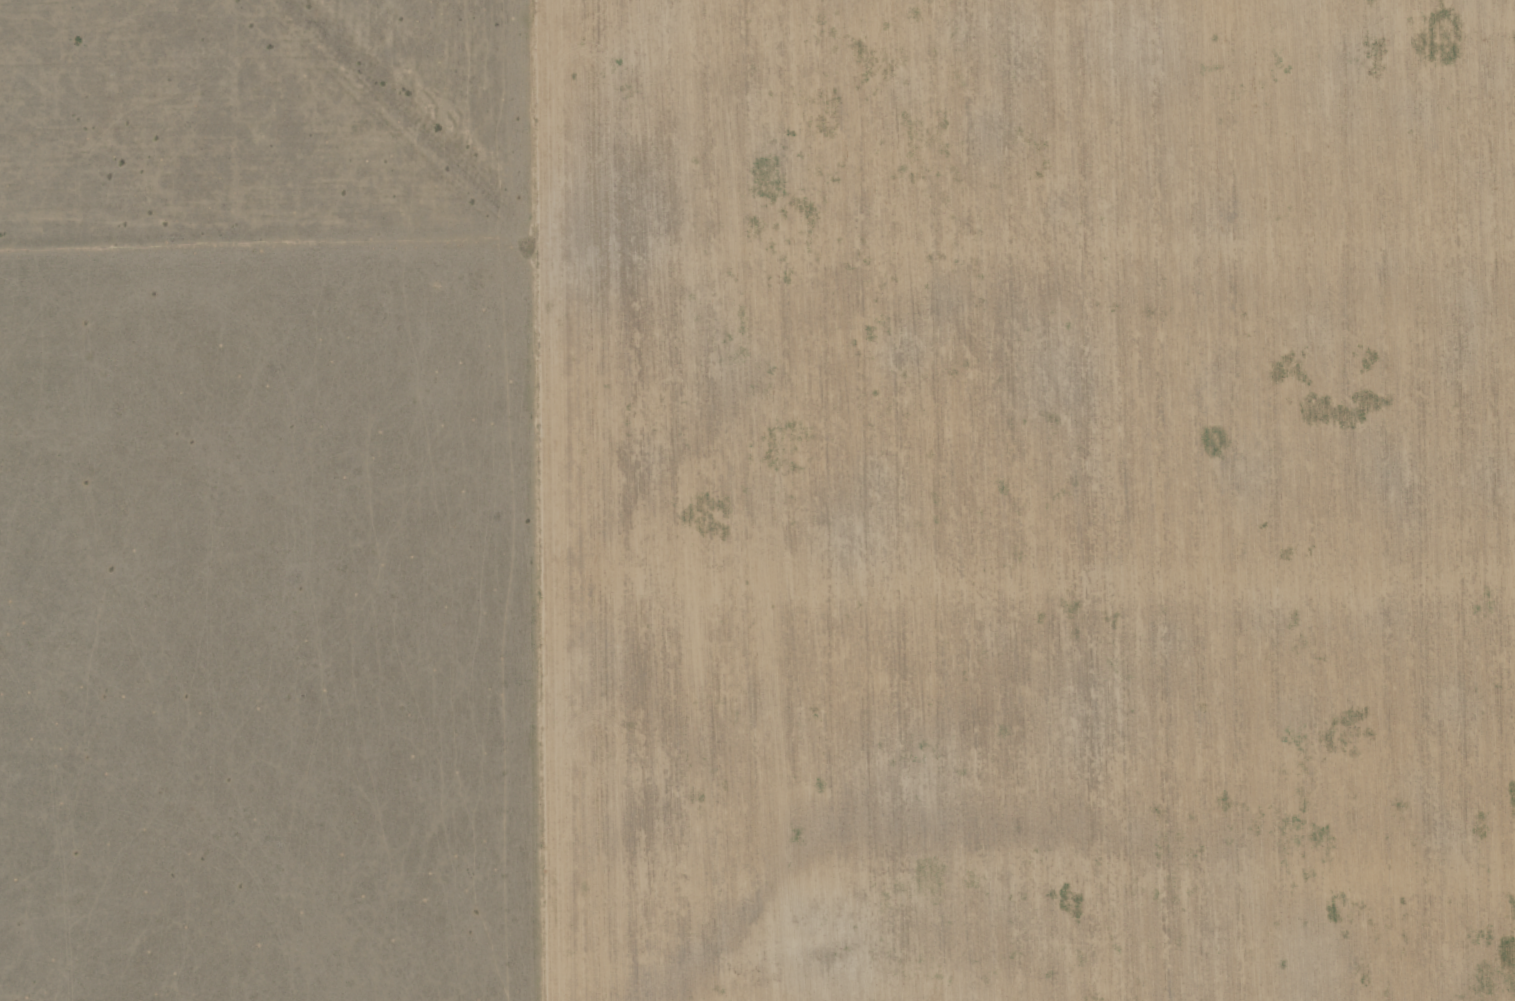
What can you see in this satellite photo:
road: (394, 553)

